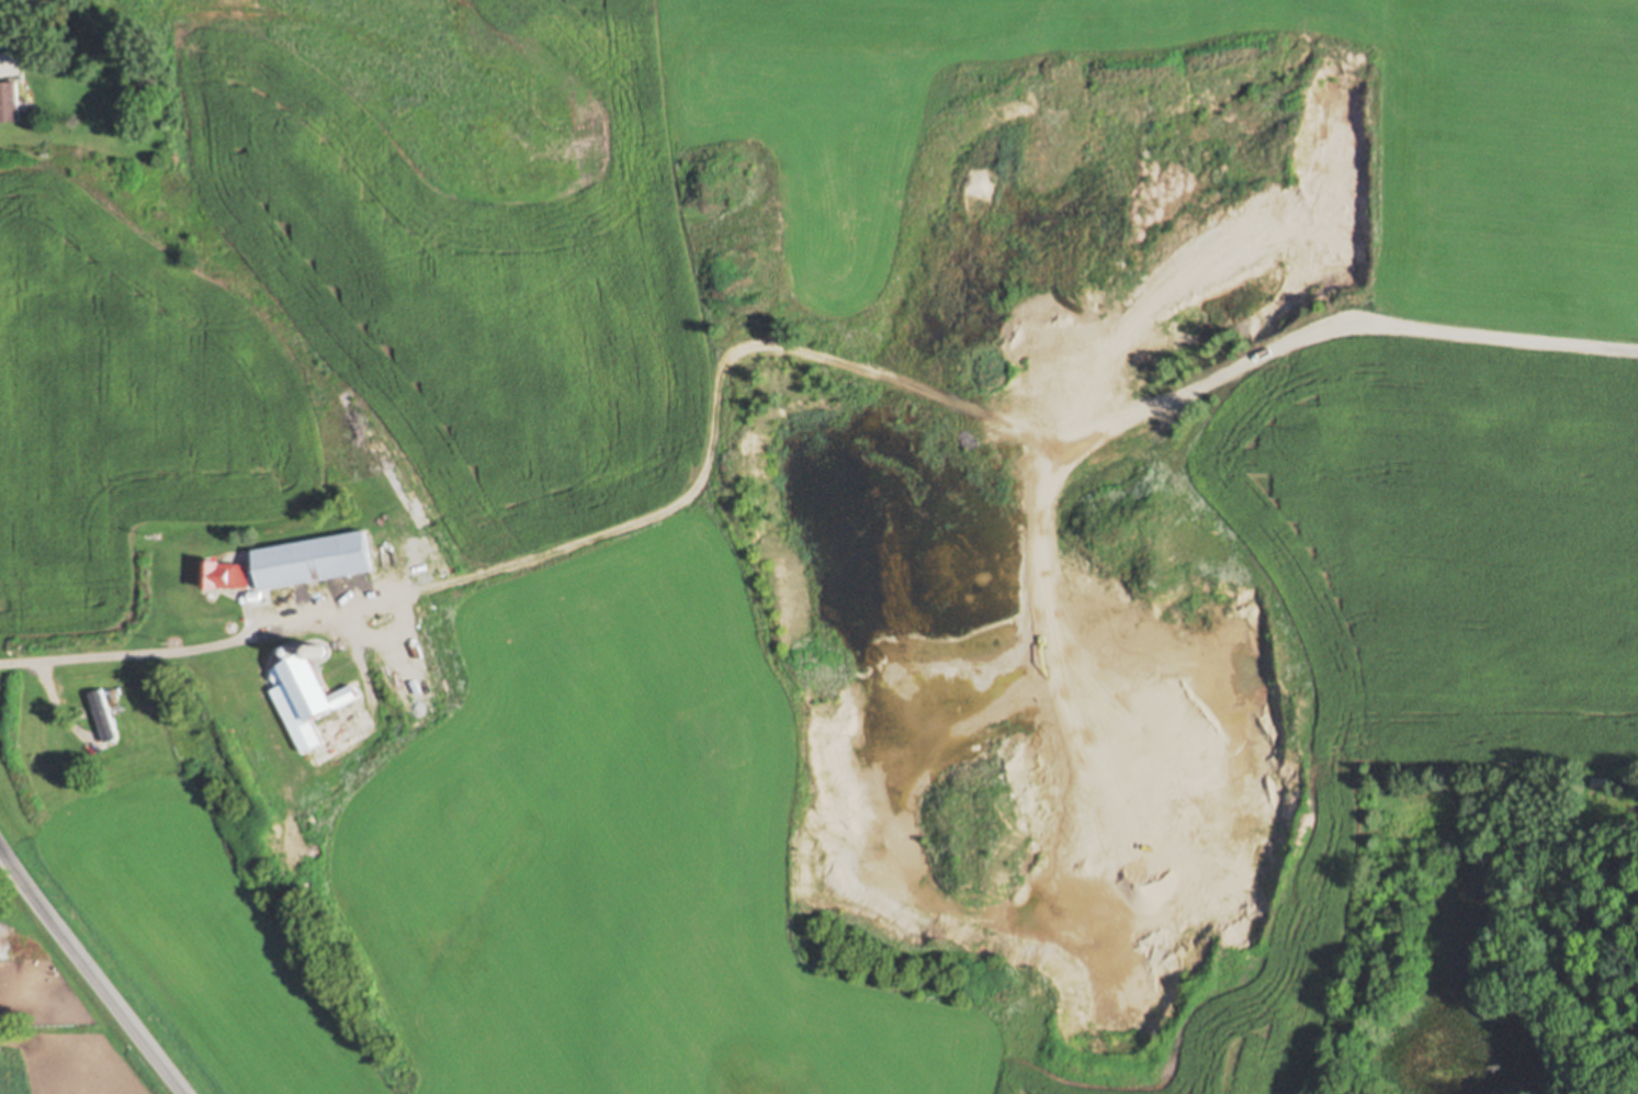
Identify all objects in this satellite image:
building: (31, 50)
building: (9, 99)
building: (128, 128)
building: (314, 557)
building: (227, 573)
building: (257, 594)
road: (244, 635)
building: (315, 646)
building: (290, 648)
building: (306, 696)
building: (103, 714)
building: (1603, 780)
road: (92, 971)

